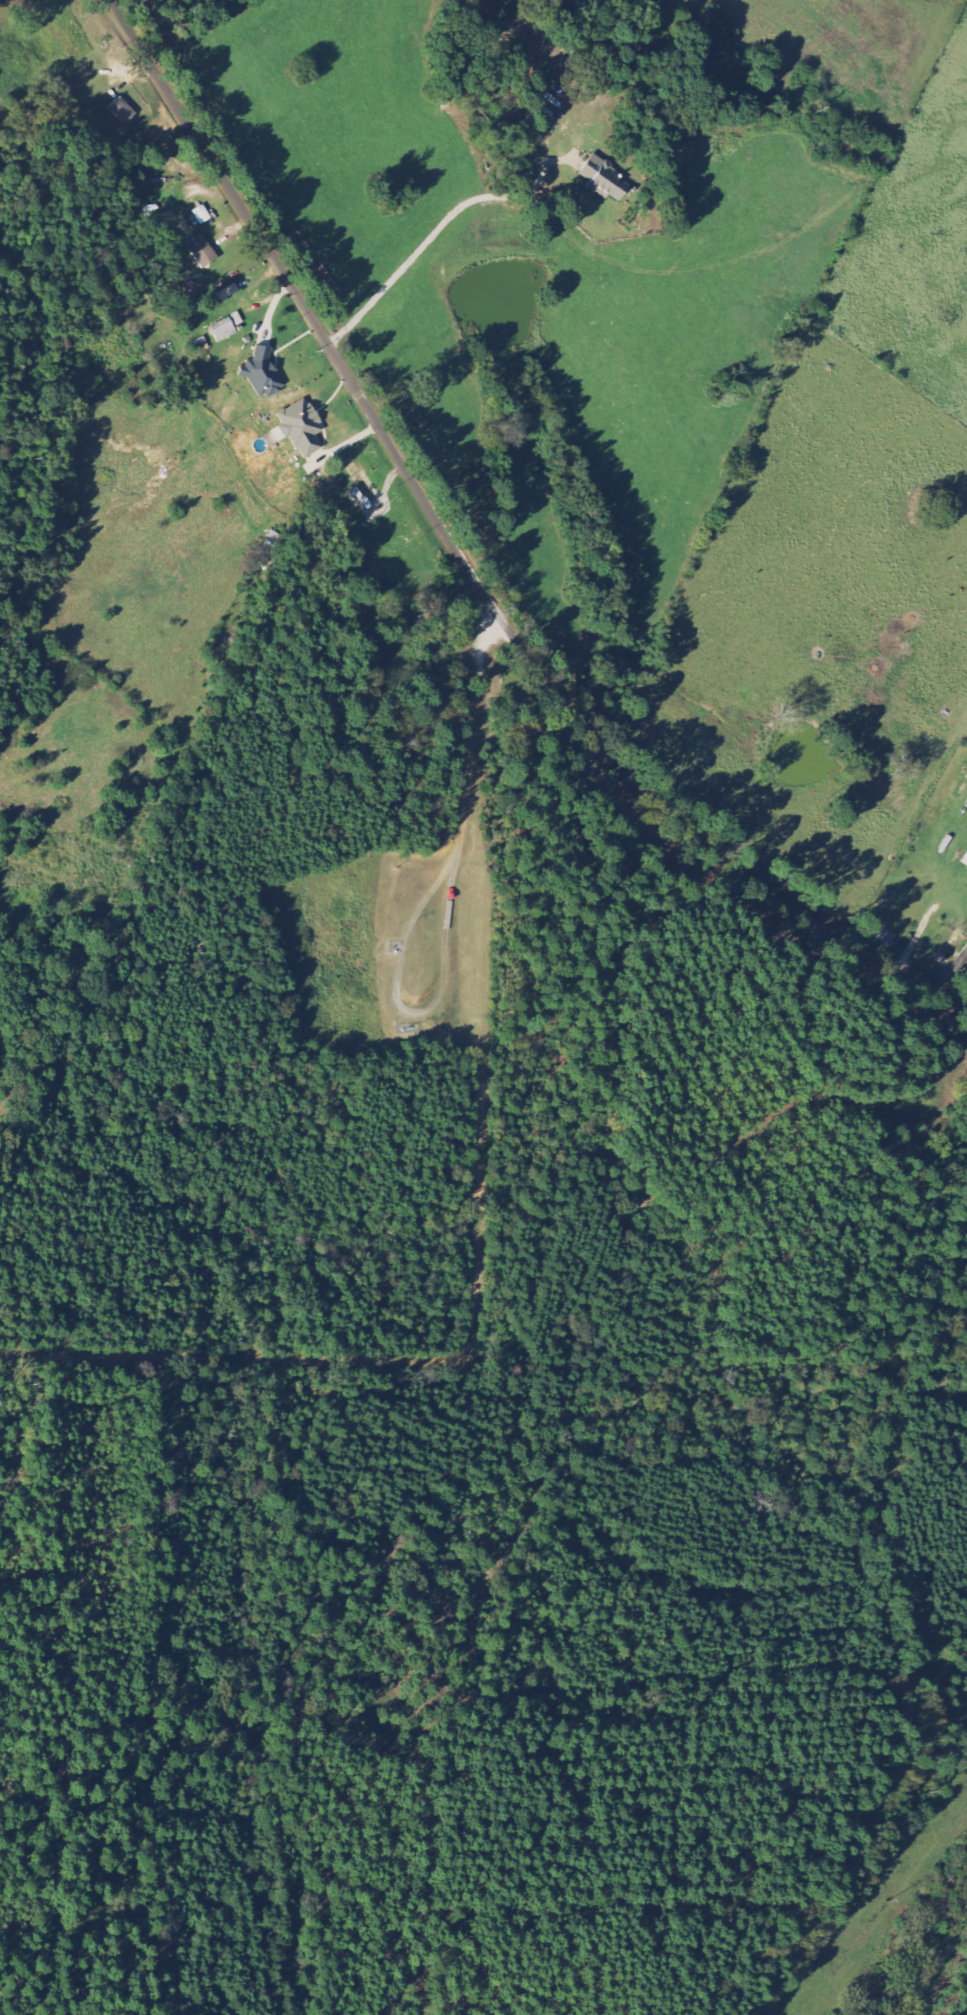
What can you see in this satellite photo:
building: (121, 111)
building: (544, 115)
building: (604, 179)
building: (201, 215)
road: (430, 236)
building: (201, 252)
building: (228, 293)
building: (226, 328)
building: (262, 373)
building: (299, 428)
building: (359, 484)
road: (459, 557)

